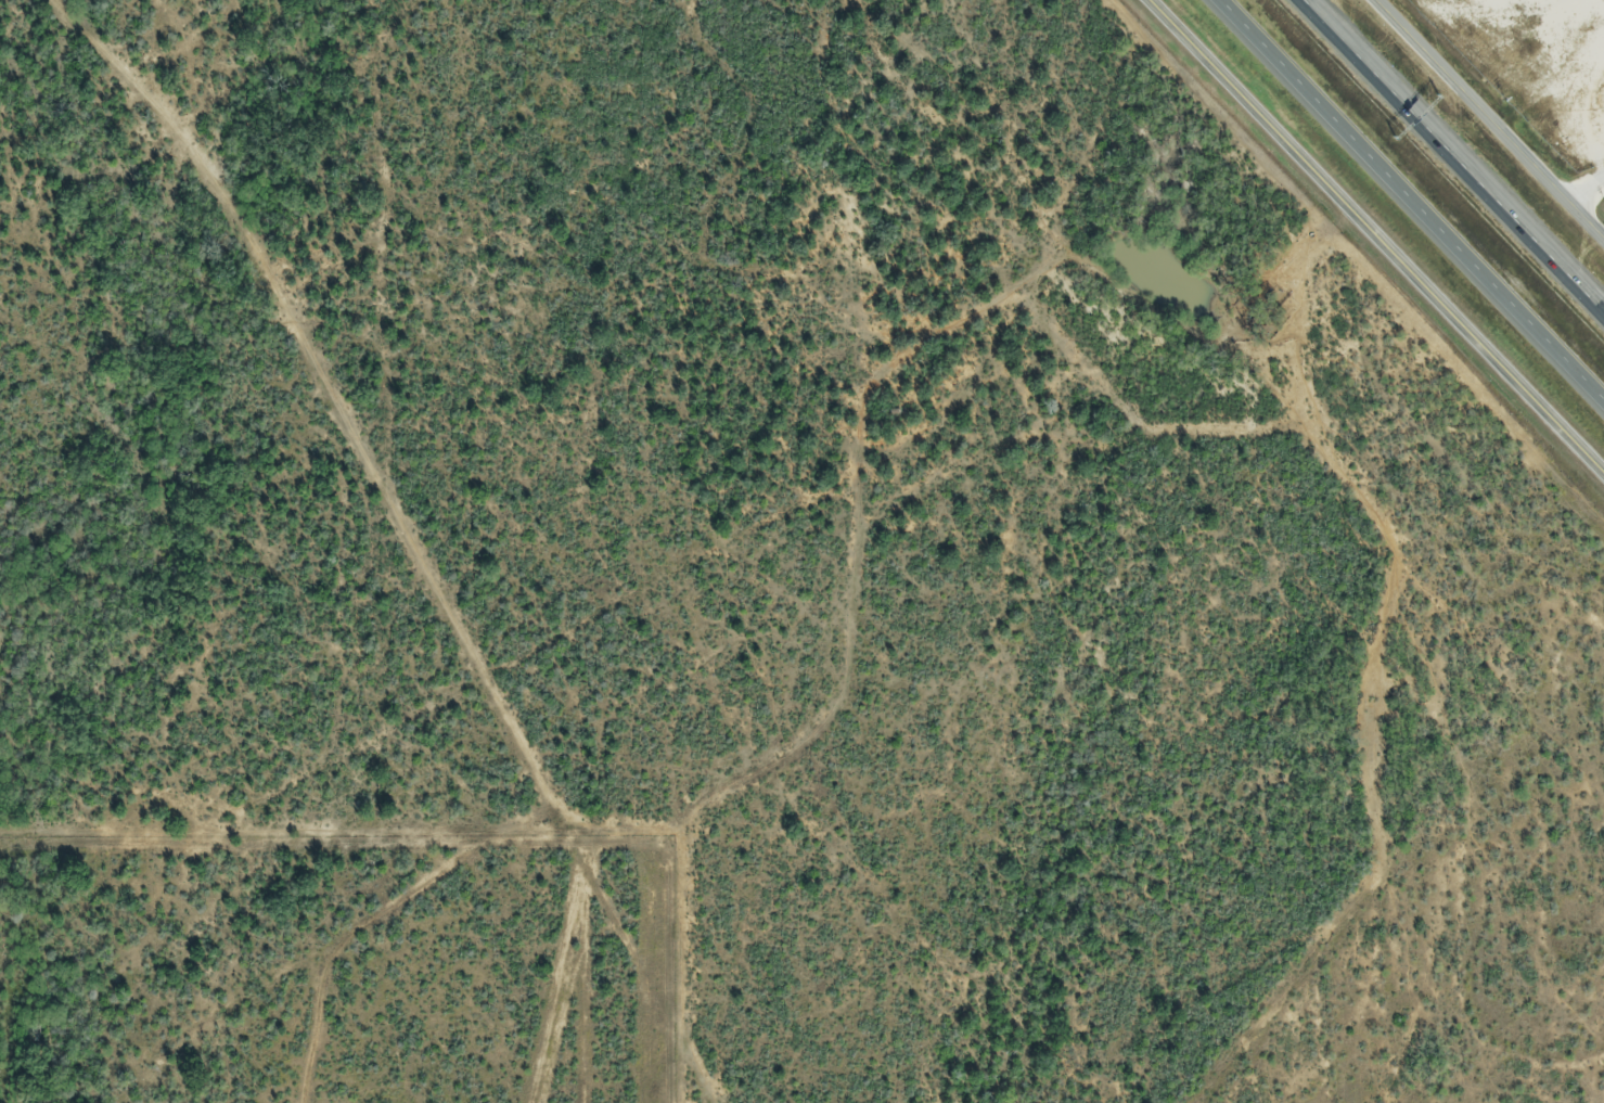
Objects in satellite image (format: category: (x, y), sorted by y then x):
road: (1494, 113)
road: (1454, 154)
road: (1588, 183)
road: (1416, 198)
road: (1373, 241)

